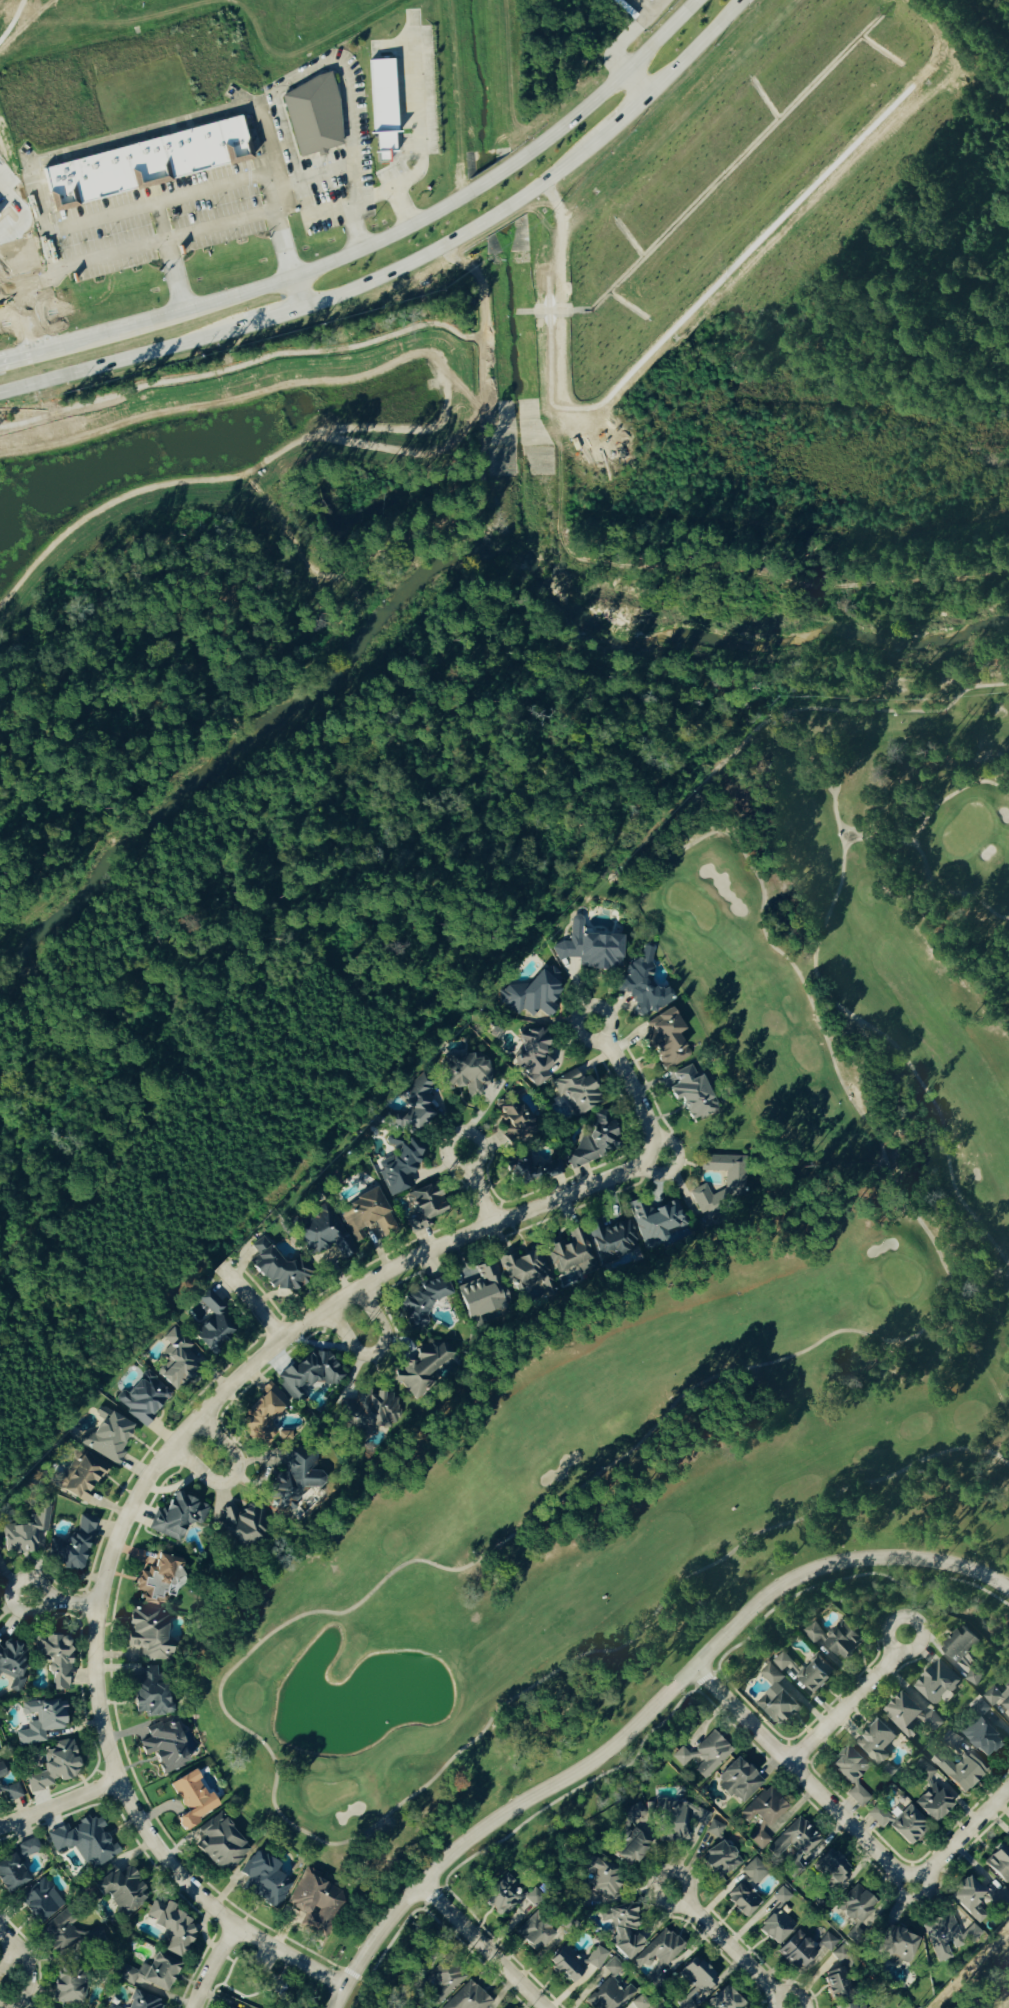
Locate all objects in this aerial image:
park: (1007, 1)
road: (413, 26)
road: (633, 32)
road: (308, 70)
road: (637, 80)
parking lot: (424, 86)
parking lot: (359, 101)
road: (417, 103)
building: (387, 105)
building: (316, 115)
road: (67, 151)
building: (147, 163)
road: (316, 172)
road: (394, 185)
parking lot: (327, 190)
road: (163, 198)
road: (354, 205)
road: (314, 210)
parking lot: (200, 212)
road: (100, 216)
road: (241, 218)
parking lot: (104, 238)
road: (379, 239)
road: (288, 258)
road: (406, 263)
road: (30, 283)
river: (435, 574)
road: (852, 844)
road: (919, 850)
building: (592, 950)
building: (643, 985)
building: (529, 998)
building: (666, 1039)
road: (888, 1045)
building: (534, 1055)
building: (464, 1074)
road: (624, 1077)
building: (692, 1092)
building: (576, 1093)
building: (419, 1103)
building: (598, 1140)
building: (399, 1166)
building: (735, 1186)
road: (478, 1188)
building: (424, 1206)
building: (366, 1215)
building: (658, 1222)
building: (323, 1233)
building: (612, 1240)
building: (572, 1254)
building: (276, 1270)
building: (520, 1270)
building: (482, 1292)
road: (252, 1301)
building: (422, 1303)
park: (697, 1309)
building: (214, 1325)
road: (374, 1350)
building: (175, 1359)
building: (310, 1373)
building: (414, 1391)
building: (144, 1398)
building: (109, 1436)
road: (173, 1446)
road: (230, 1475)
building: (82, 1477)
building: (295, 1477)
road: (569, 1497)
building: (178, 1515)
building: (239, 1526)
building: (71, 1548)
road: (9, 1594)
road: (70, 1604)
building: (151, 1634)
building: (837, 1640)
building: (962, 1656)
building: (56, 1660)
building: (809, 1673)
building: (938, 1685)
building: (998, 1699)
building: (777, 1700)
road: (847, 1701)
building: (979, 1708)
building: (911, 1717)
road: (643, 1718)
building: (42, 1721)
road: (663, 1723)
building: (982, 1737)
building: (877, 1743)
building: (168, 1745)
building: (703, 1755)
building: (54, 1768)
building: (888, 1771)
building: (2, 1772)
building: (961, 1772)
building: (852, 1775)
building: (739, 1781)
building: (11, 1792)
building: (931, 1795)
building: (192, 1800)
road: (58, 1803)
building: (764, 1808)
building: (879, 1817)
building: (681, 1821)
road: (846, 1824)
building: (908, 1827)
building: (631, 1836)
building: (760, 1838)
building: (84, 1842)
building: (220, 1843)
building: (794, 1846)
building: (717, 1853)
building: (999, 1864)
building: (16, 1866)
building: (832, 1867)
building: (754, 1872)
building: (263, 1879)
building: (122, 1891)
building: (782, 1896)
building: (509, 1897)
building: (744, 1899)
building: (970, 1900)
building: (40, 1903)
building: (855, 1905)
building: (316, 1906)
building: (628, 1921)
building: (566, 1922)
building: (172, 1927)
building: (776, 1927)
building: (532, 1932)
building: (62, 1933)
building: (855, 1934)
building: (943, 1938)
road: (727, 1945)
road: (483, 1946)
building: (894, 1947)
building: (802, 1951)
building: (598, 1957)
road: (15, 1962)
building: (569, 1965)
road: (210, 1966)
building: (612, 1969)
building: (158, 1973)
road: (354, 1974)
park: (256, 1978)
building: (840, 1979)
building: (695, 1984)
building: (68, 1990)
road: (793, 1992)
building: (610, 1996)
building: (468, 1998)
building: (725, 2000)
building: (143, 2002)
building: (643, 2004)
building: (111, 2006)
building: (229, 2006)
building: (848, 2007)

